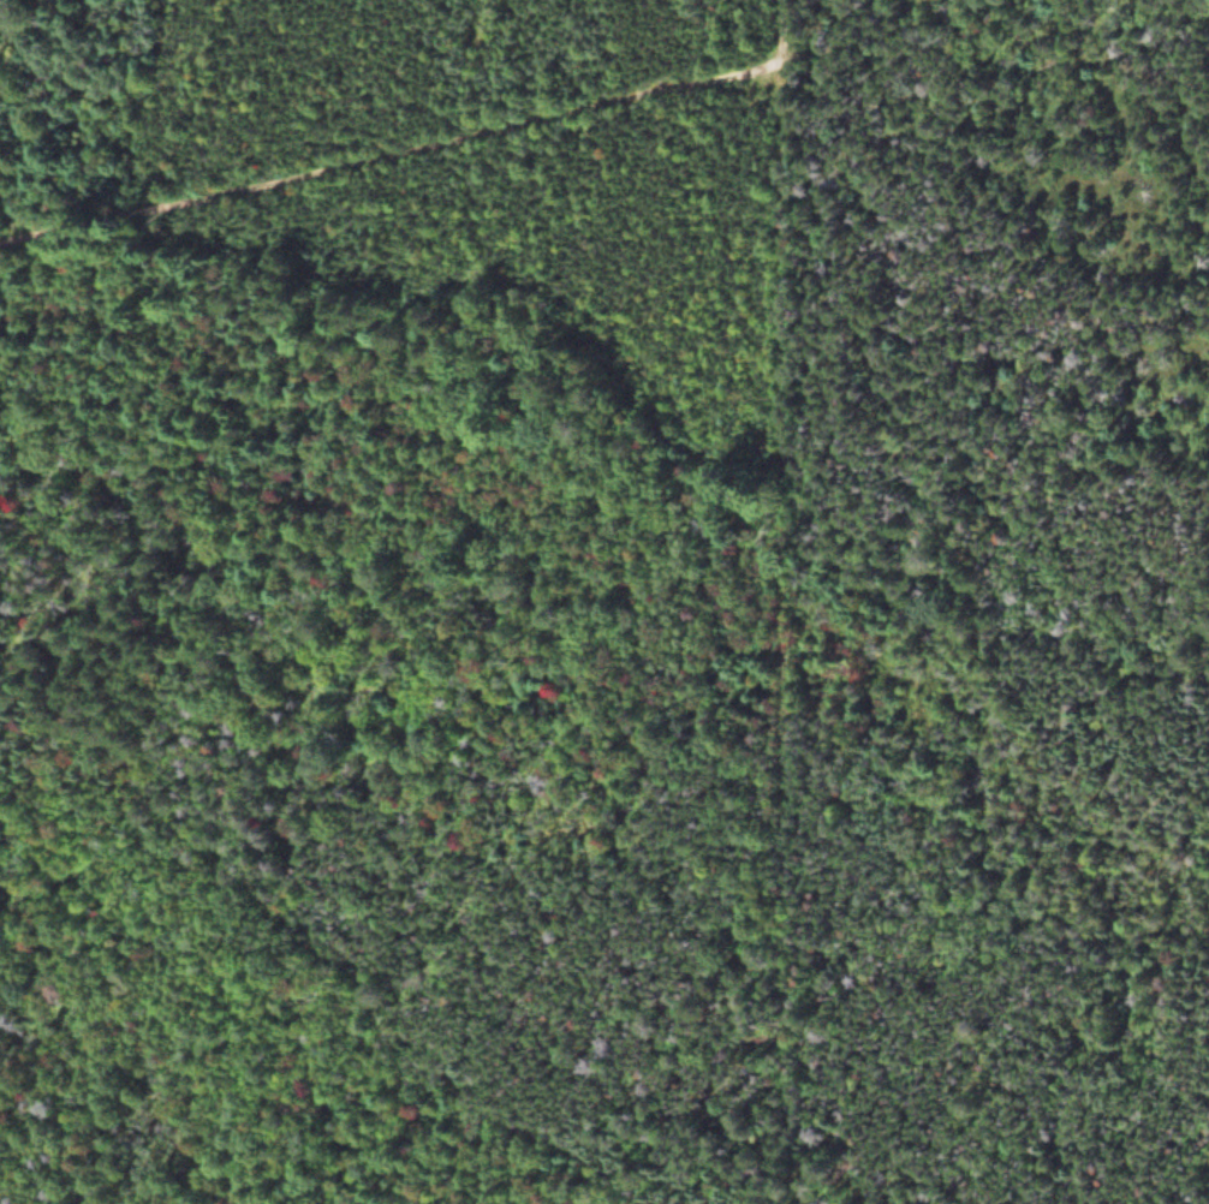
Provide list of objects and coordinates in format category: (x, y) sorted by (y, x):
road: (769, 29)
road: (889, 29)
road: (386, 157)
road: (775, 631)

